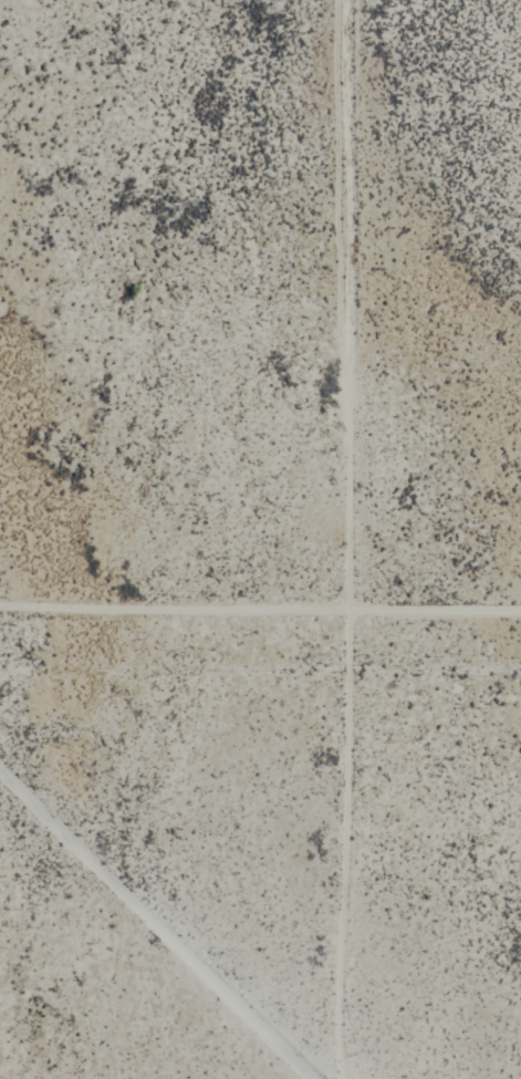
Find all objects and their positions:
road: (260, 644)
road: (157, 926)

